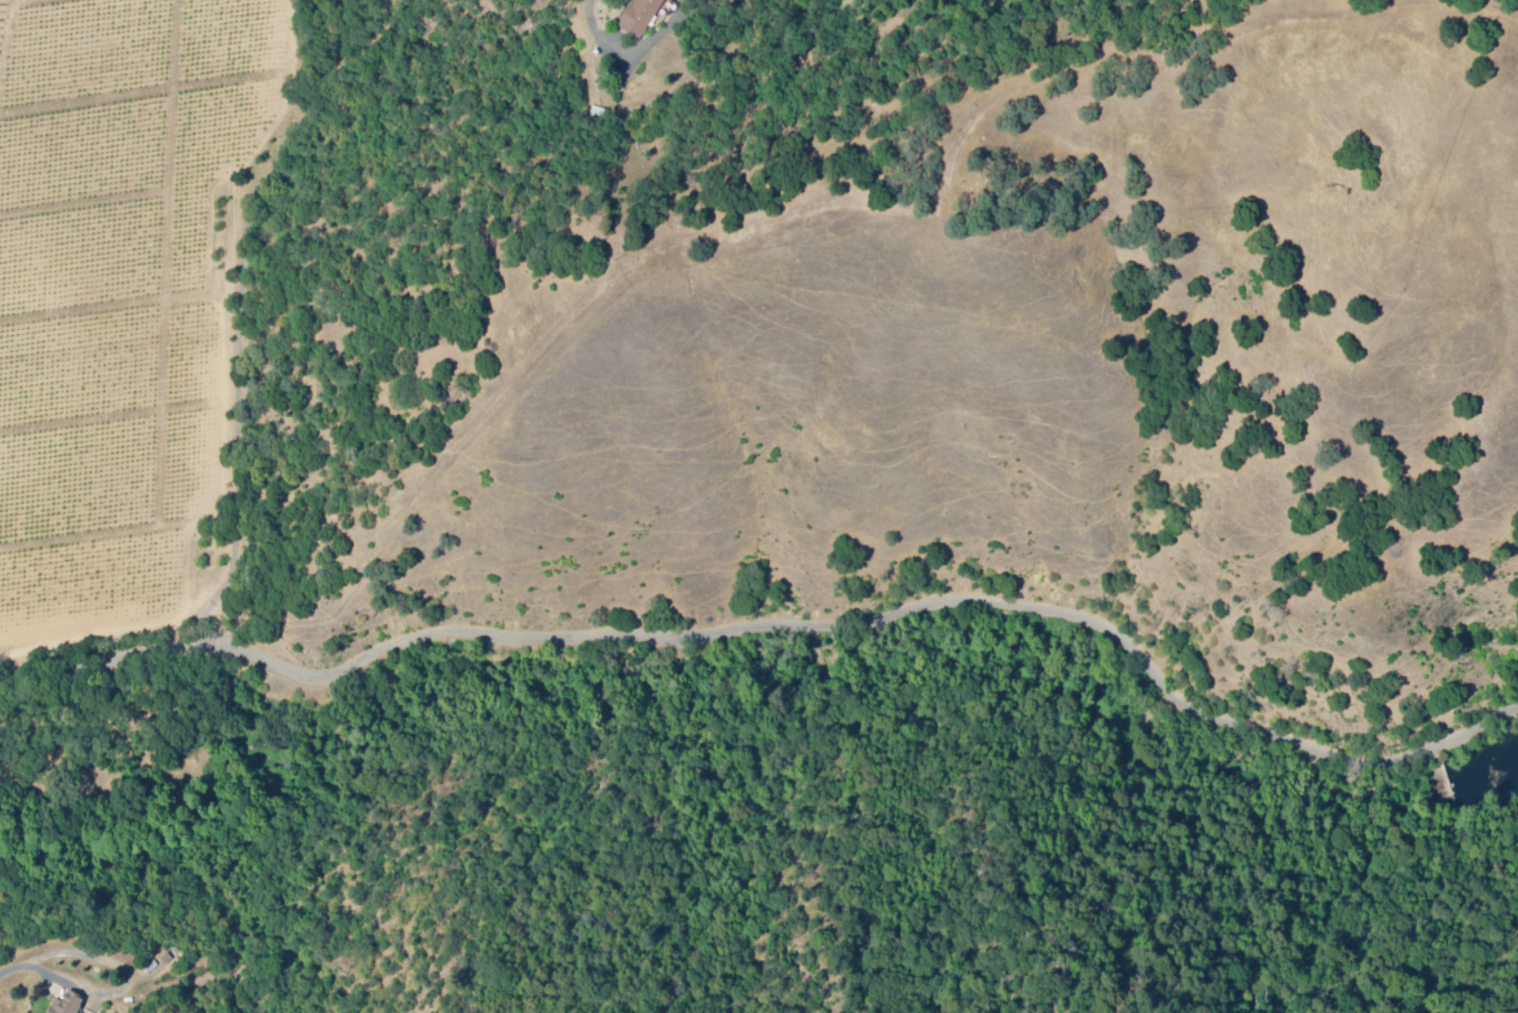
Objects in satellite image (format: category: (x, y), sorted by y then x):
building: (642, 18)
road: (779, 626)
dam: (1441, 780)
park: (1445, 857)
road: (14, 968)
building: (69, 1005)

